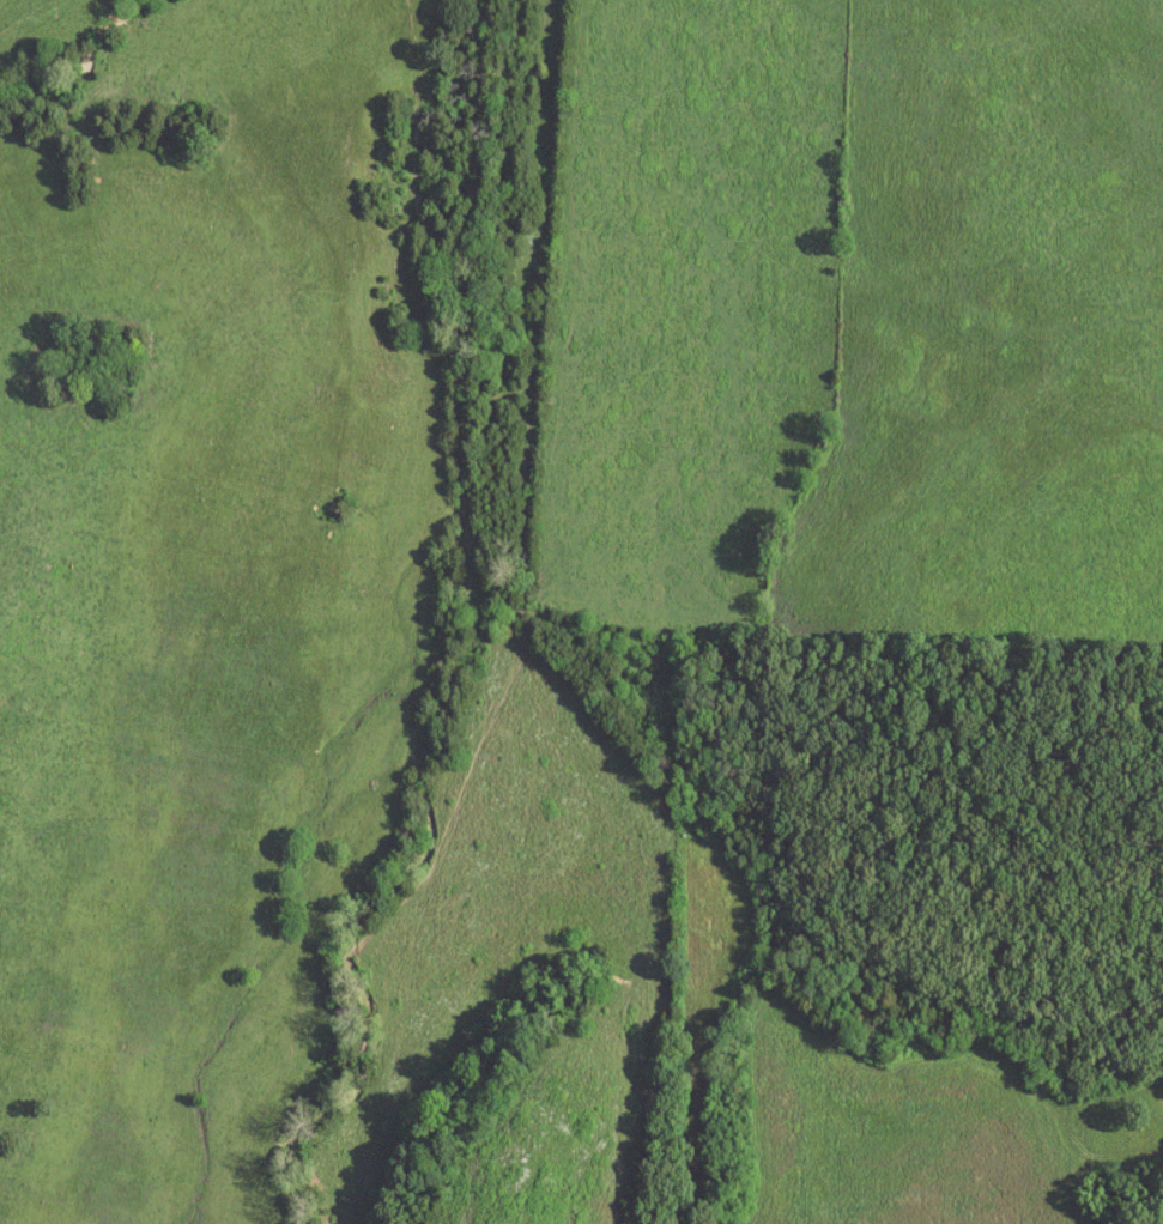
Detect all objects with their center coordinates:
park: (86, 365)

